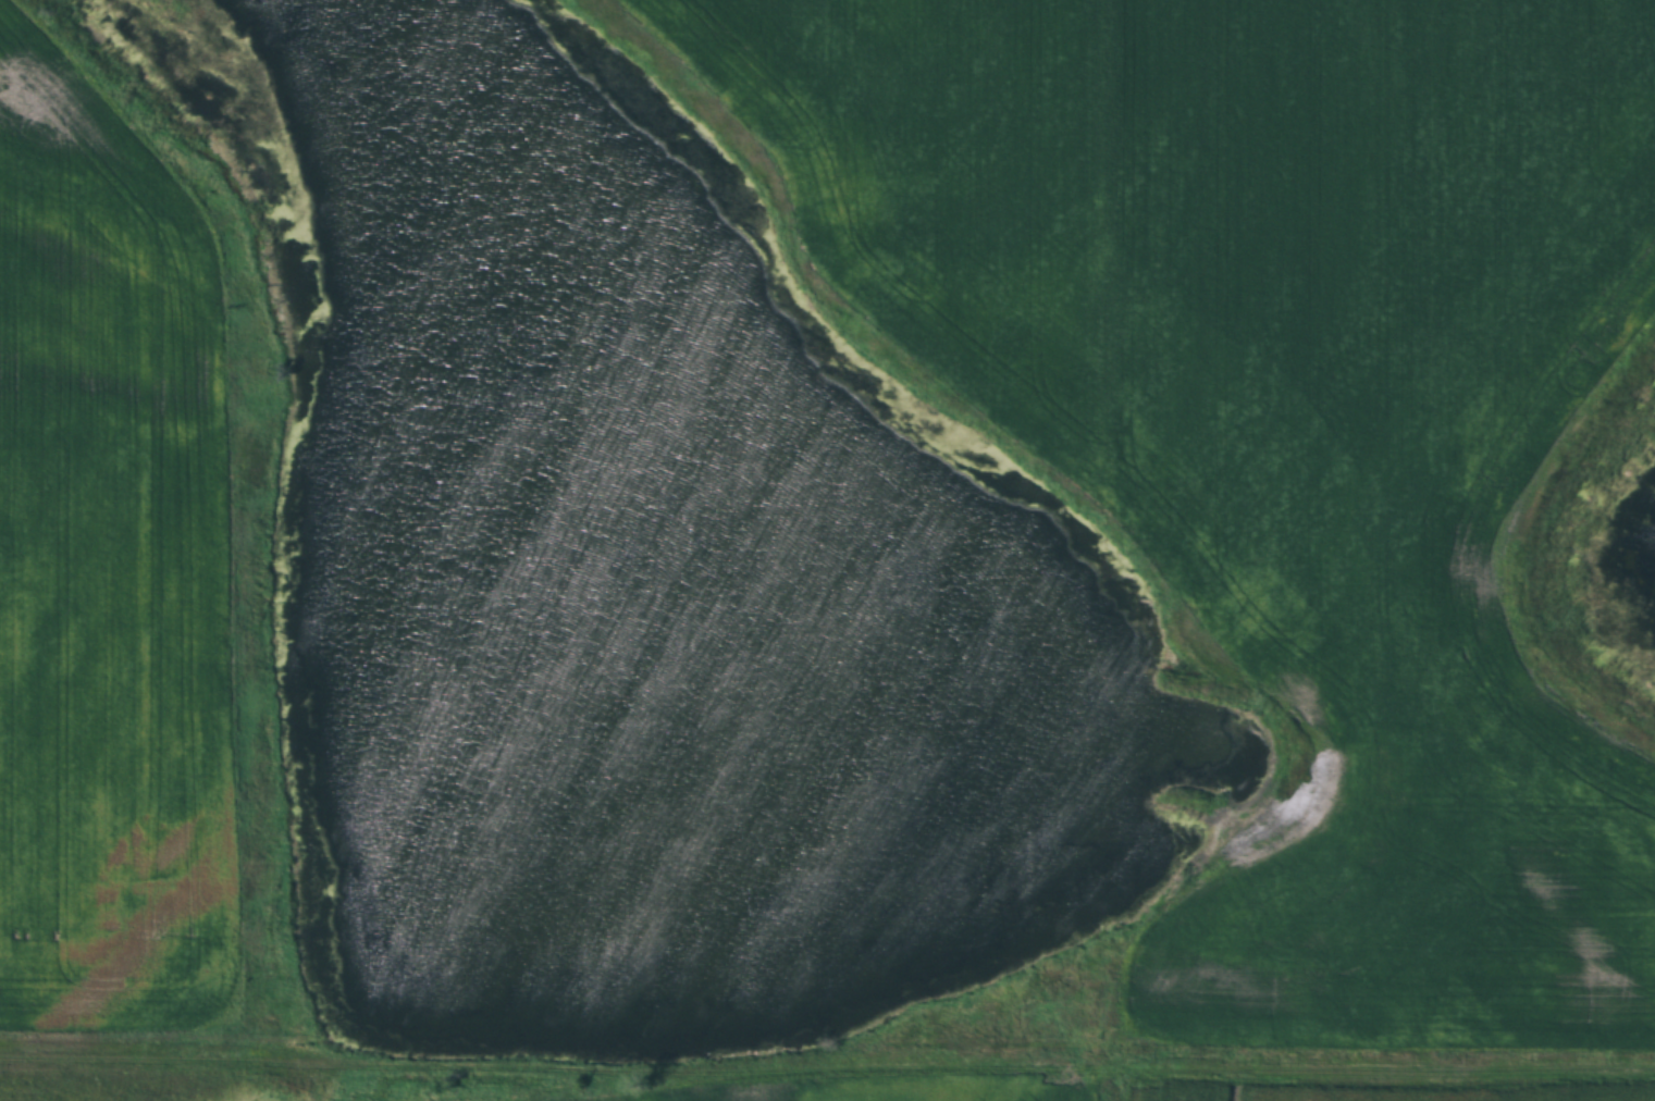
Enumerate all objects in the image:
road: (827, 1072)

